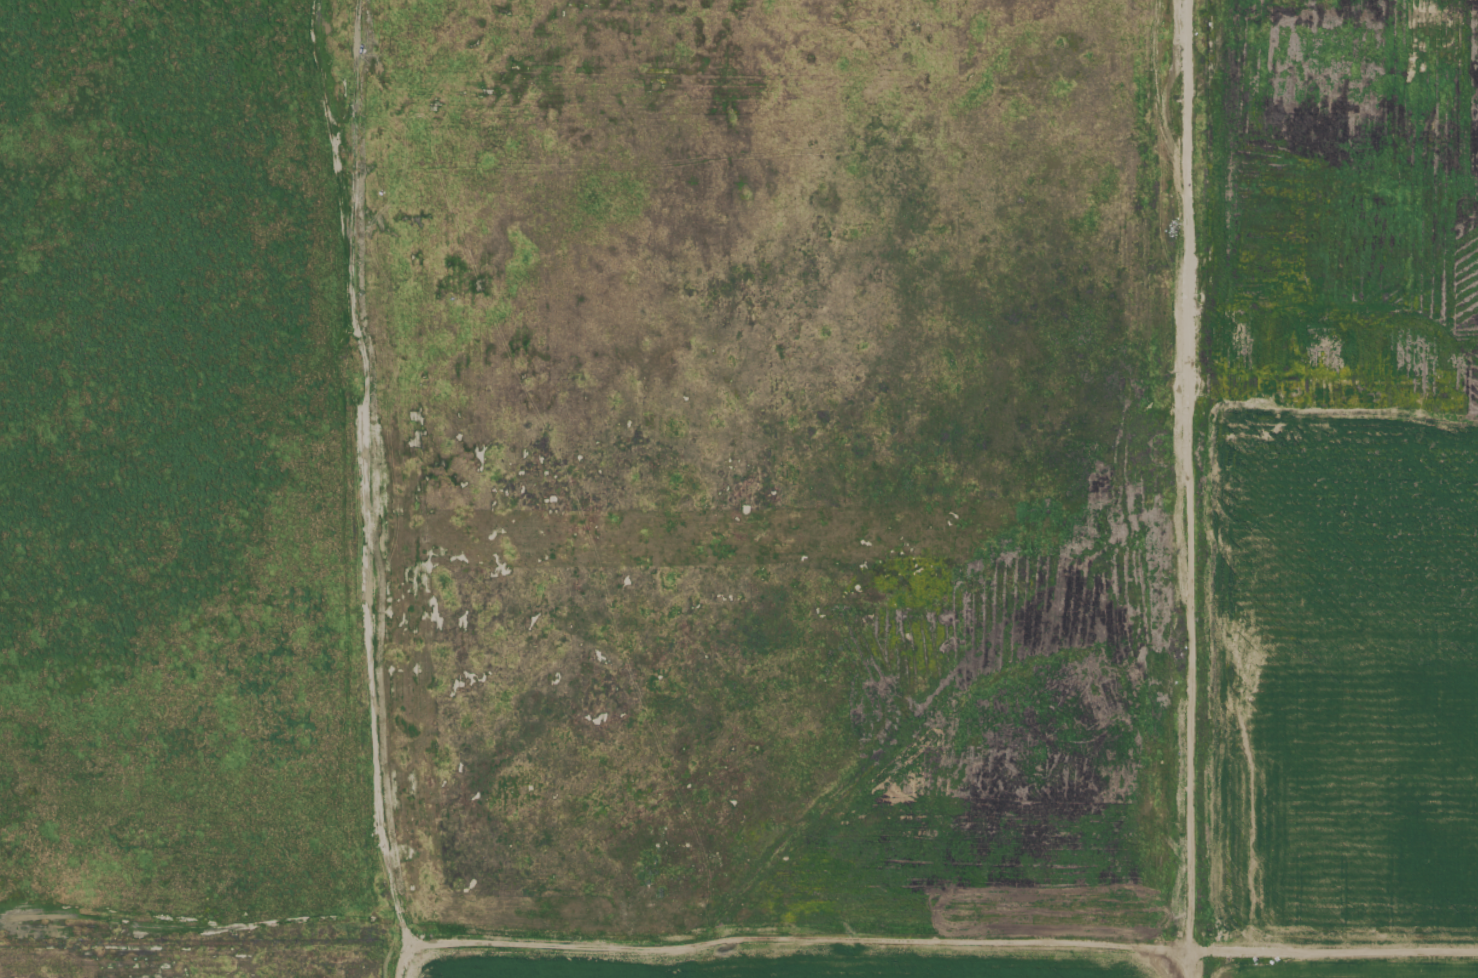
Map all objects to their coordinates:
road: (1185, 482)
road: (802, 941)
road: (420, 948)
road: (1331, 960)
road: (1185, 971)

